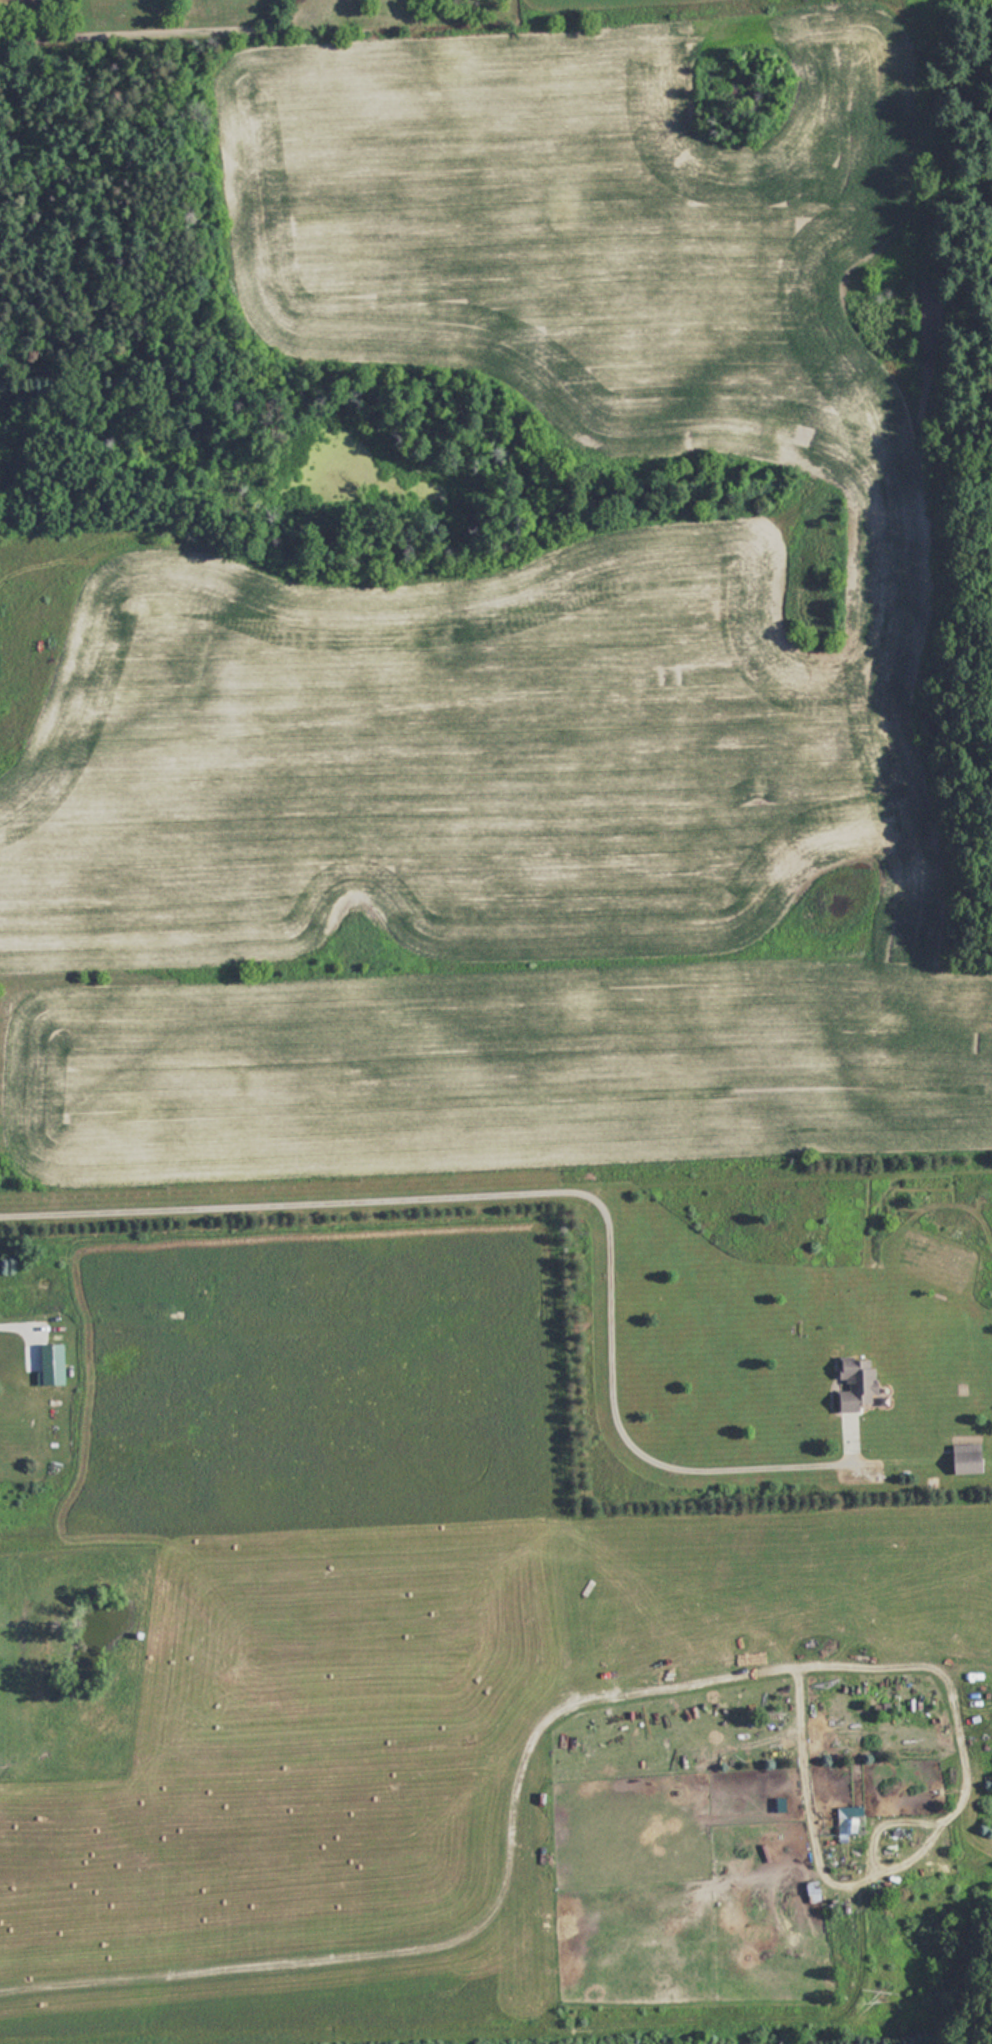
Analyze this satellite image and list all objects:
road: (524, 1183)
building: (861, 1385)
building: (971, 1457)
building: (851, 1821)
building: (829, 1857)
building: (816, 1890)

